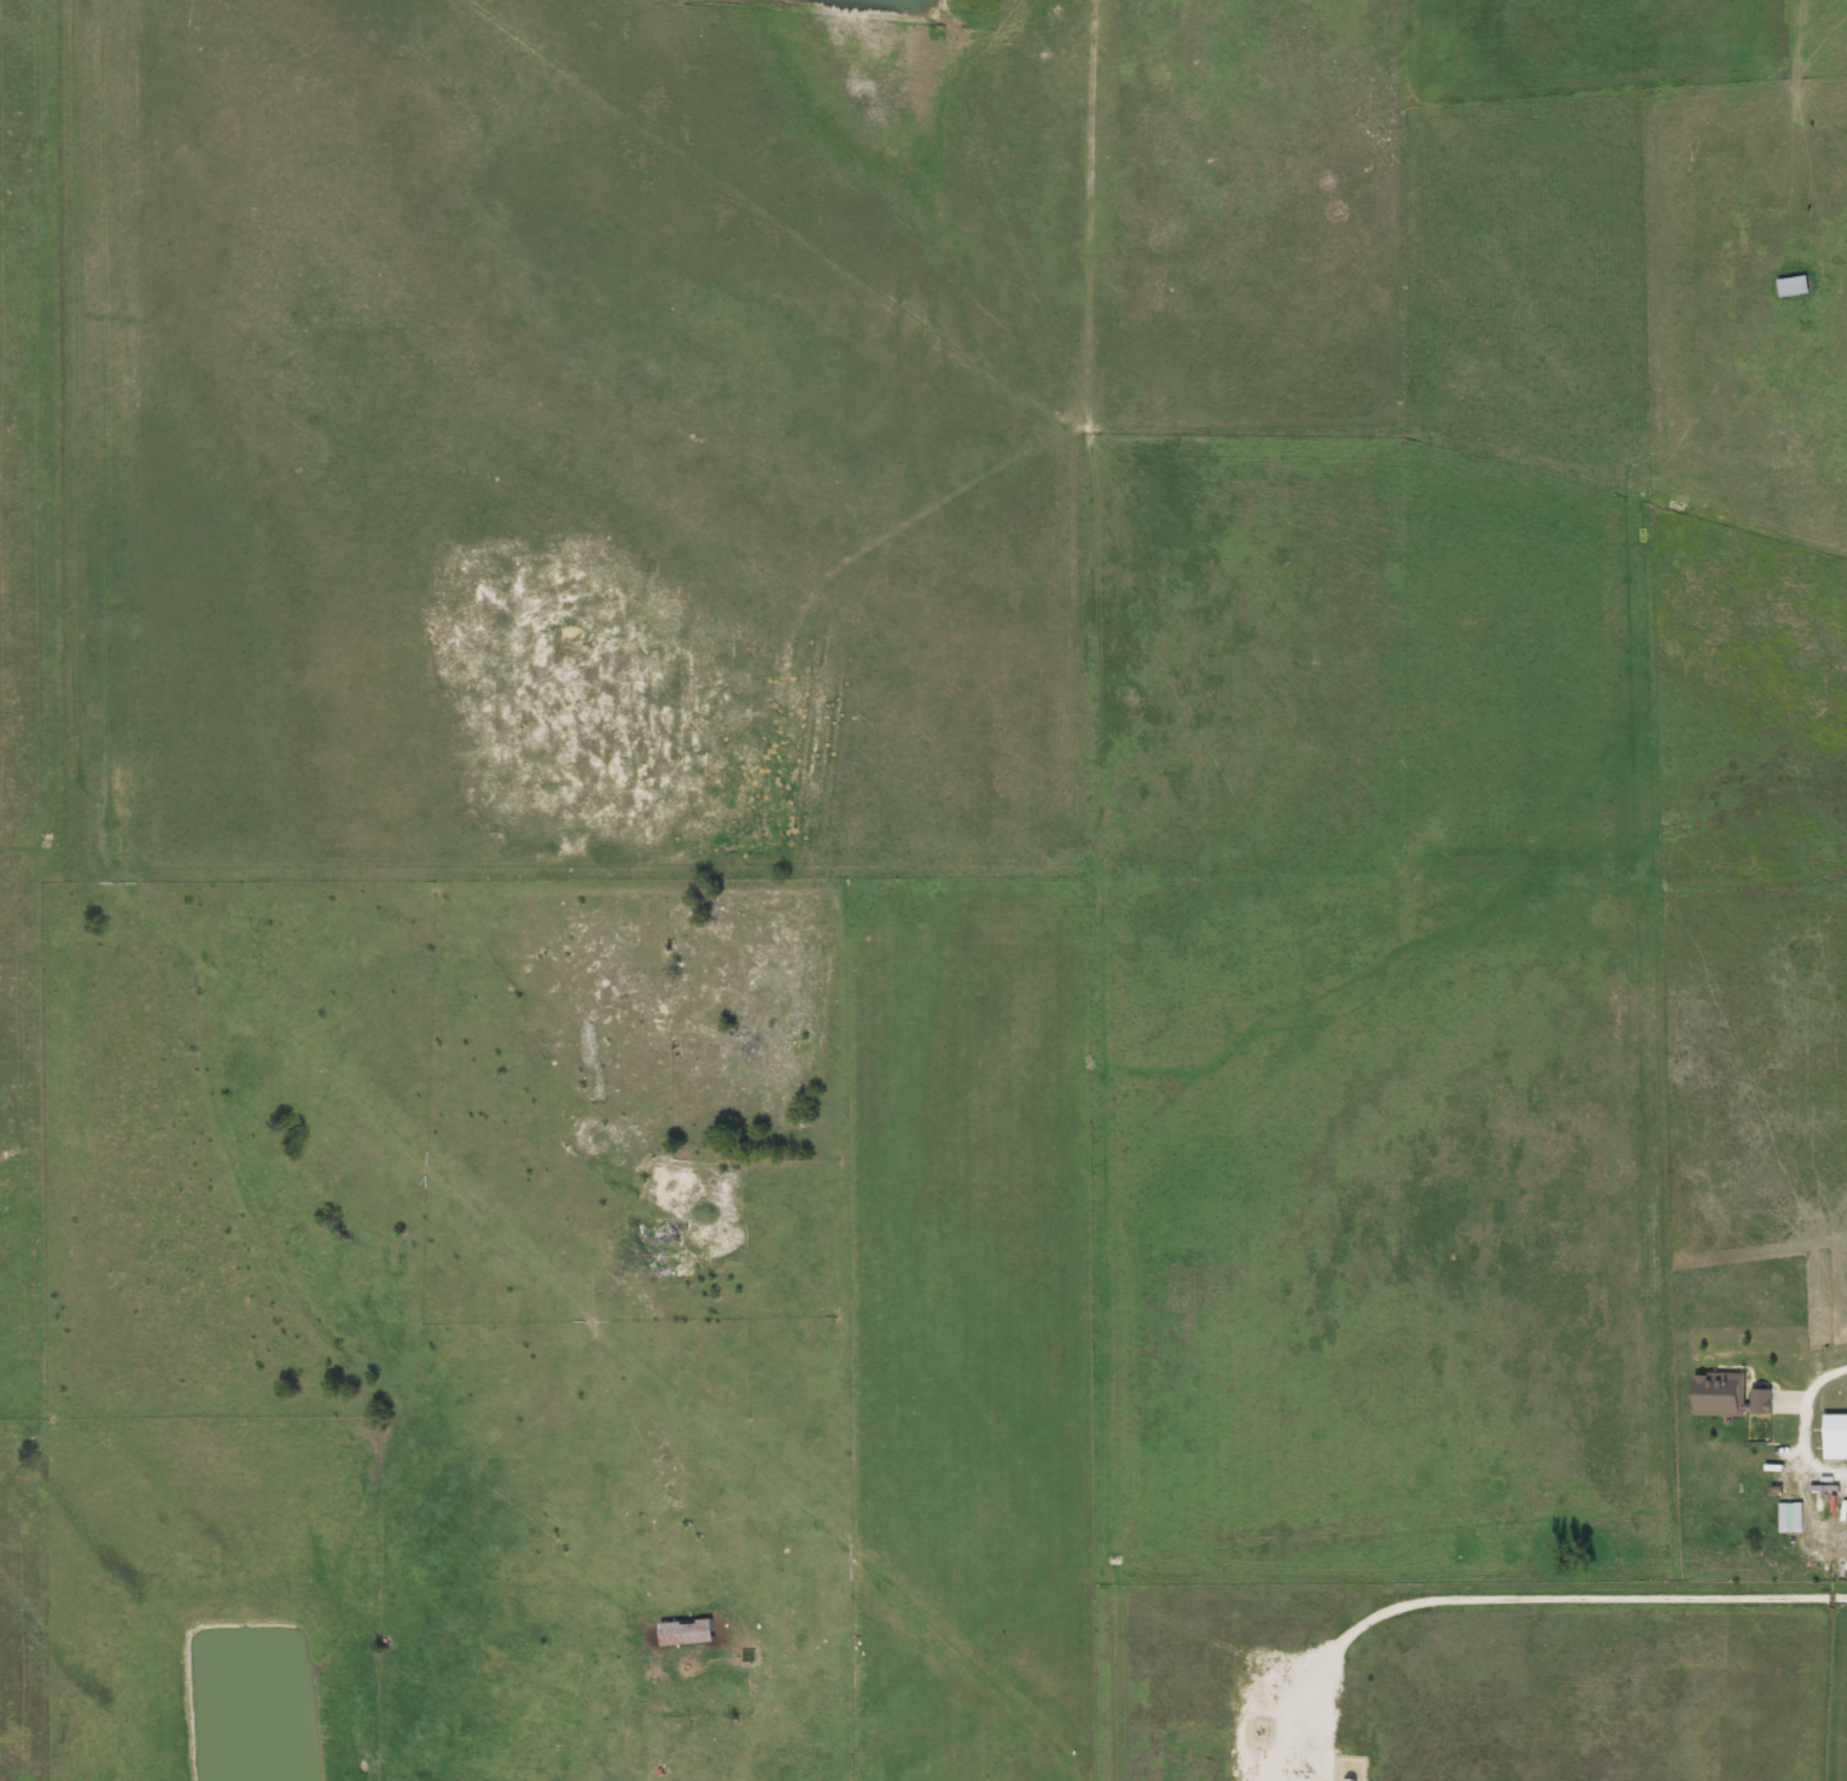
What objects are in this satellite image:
building: (1787, 286)
road: (1812, 1383)
building: (1720, 1395)
building: (1830, 1438)
building: (1784, 1518)
road: (1556, 1602)
building: (695, 1633)
building: (700, 1689)

